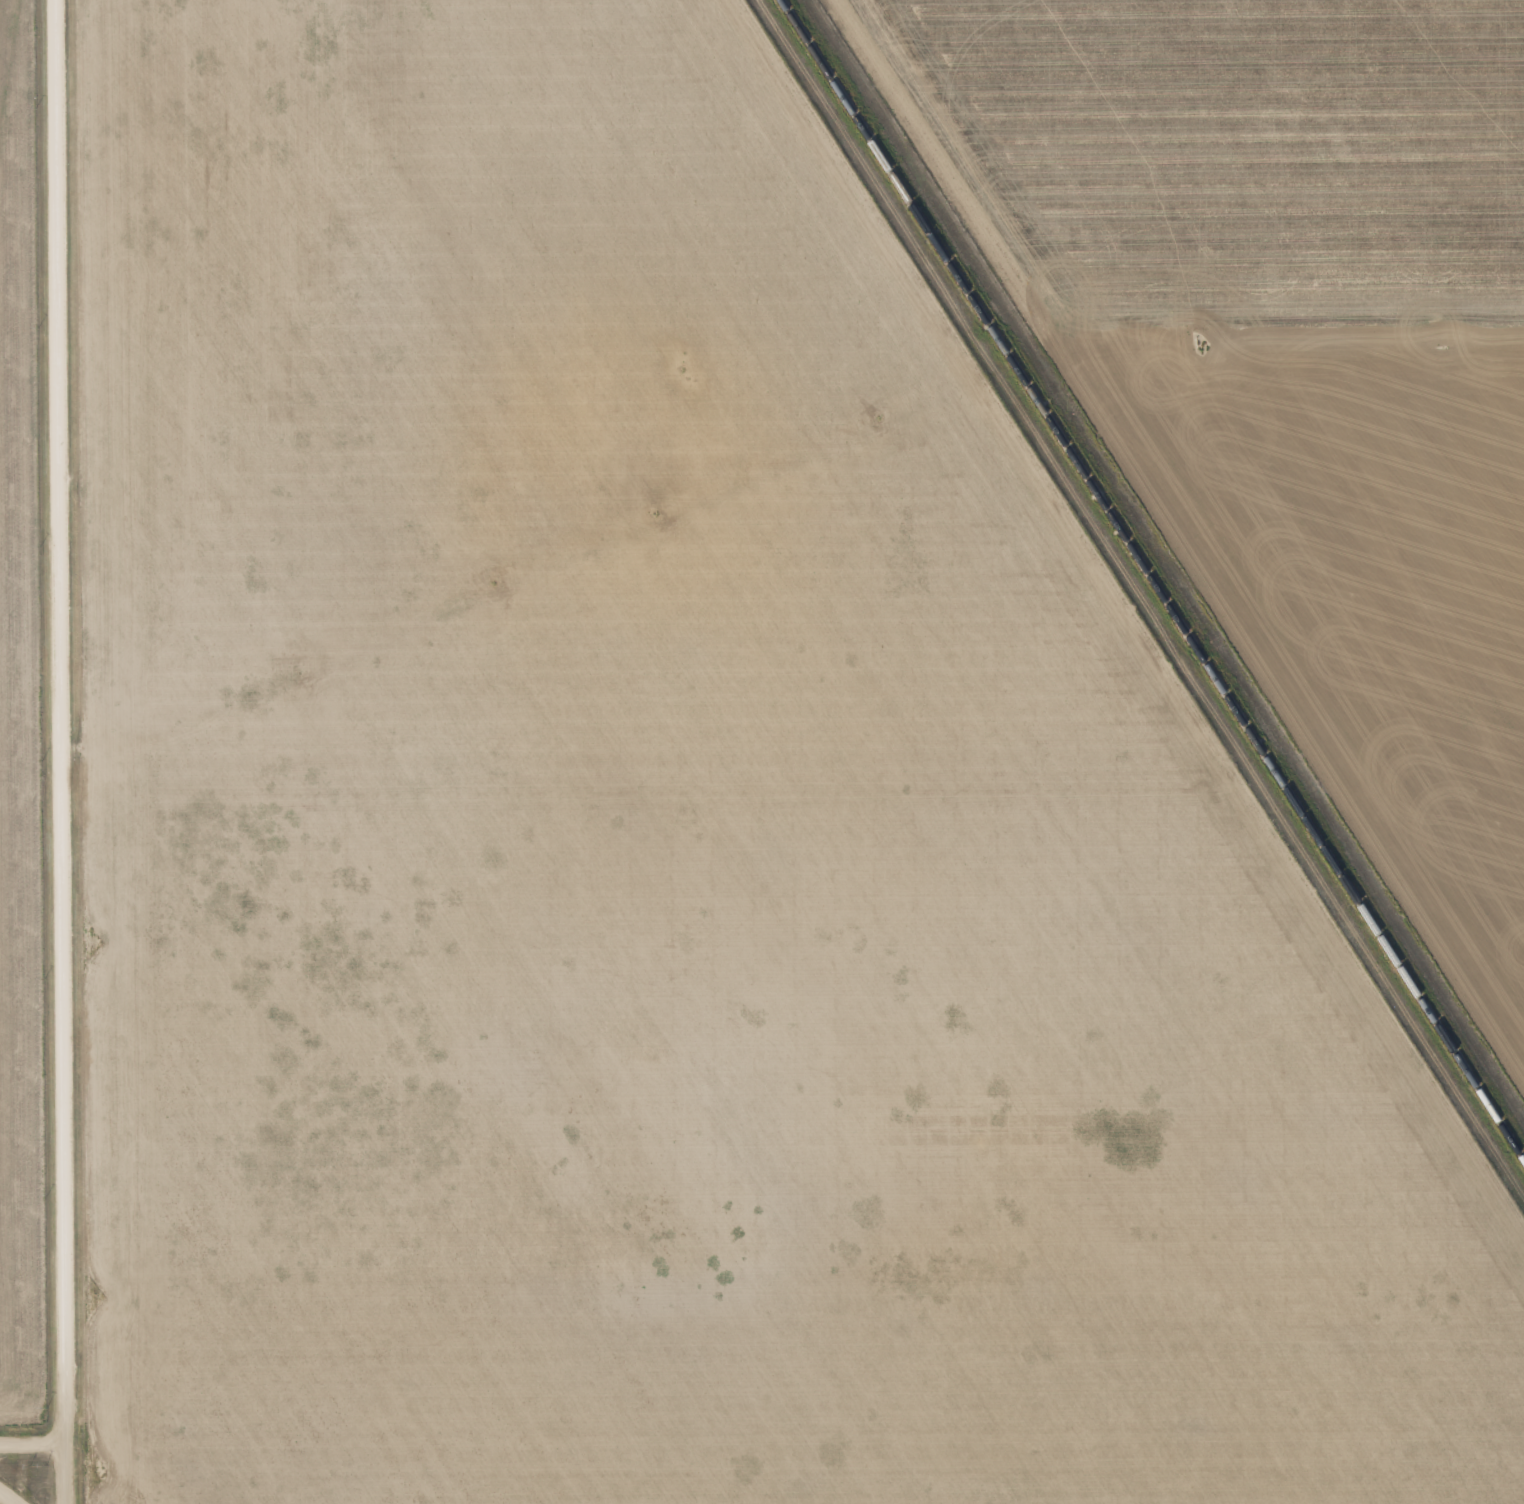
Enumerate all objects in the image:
railway: (1152, 580)
road: (58, 752)
road: (32, 1445)
road: (6, 1499)

